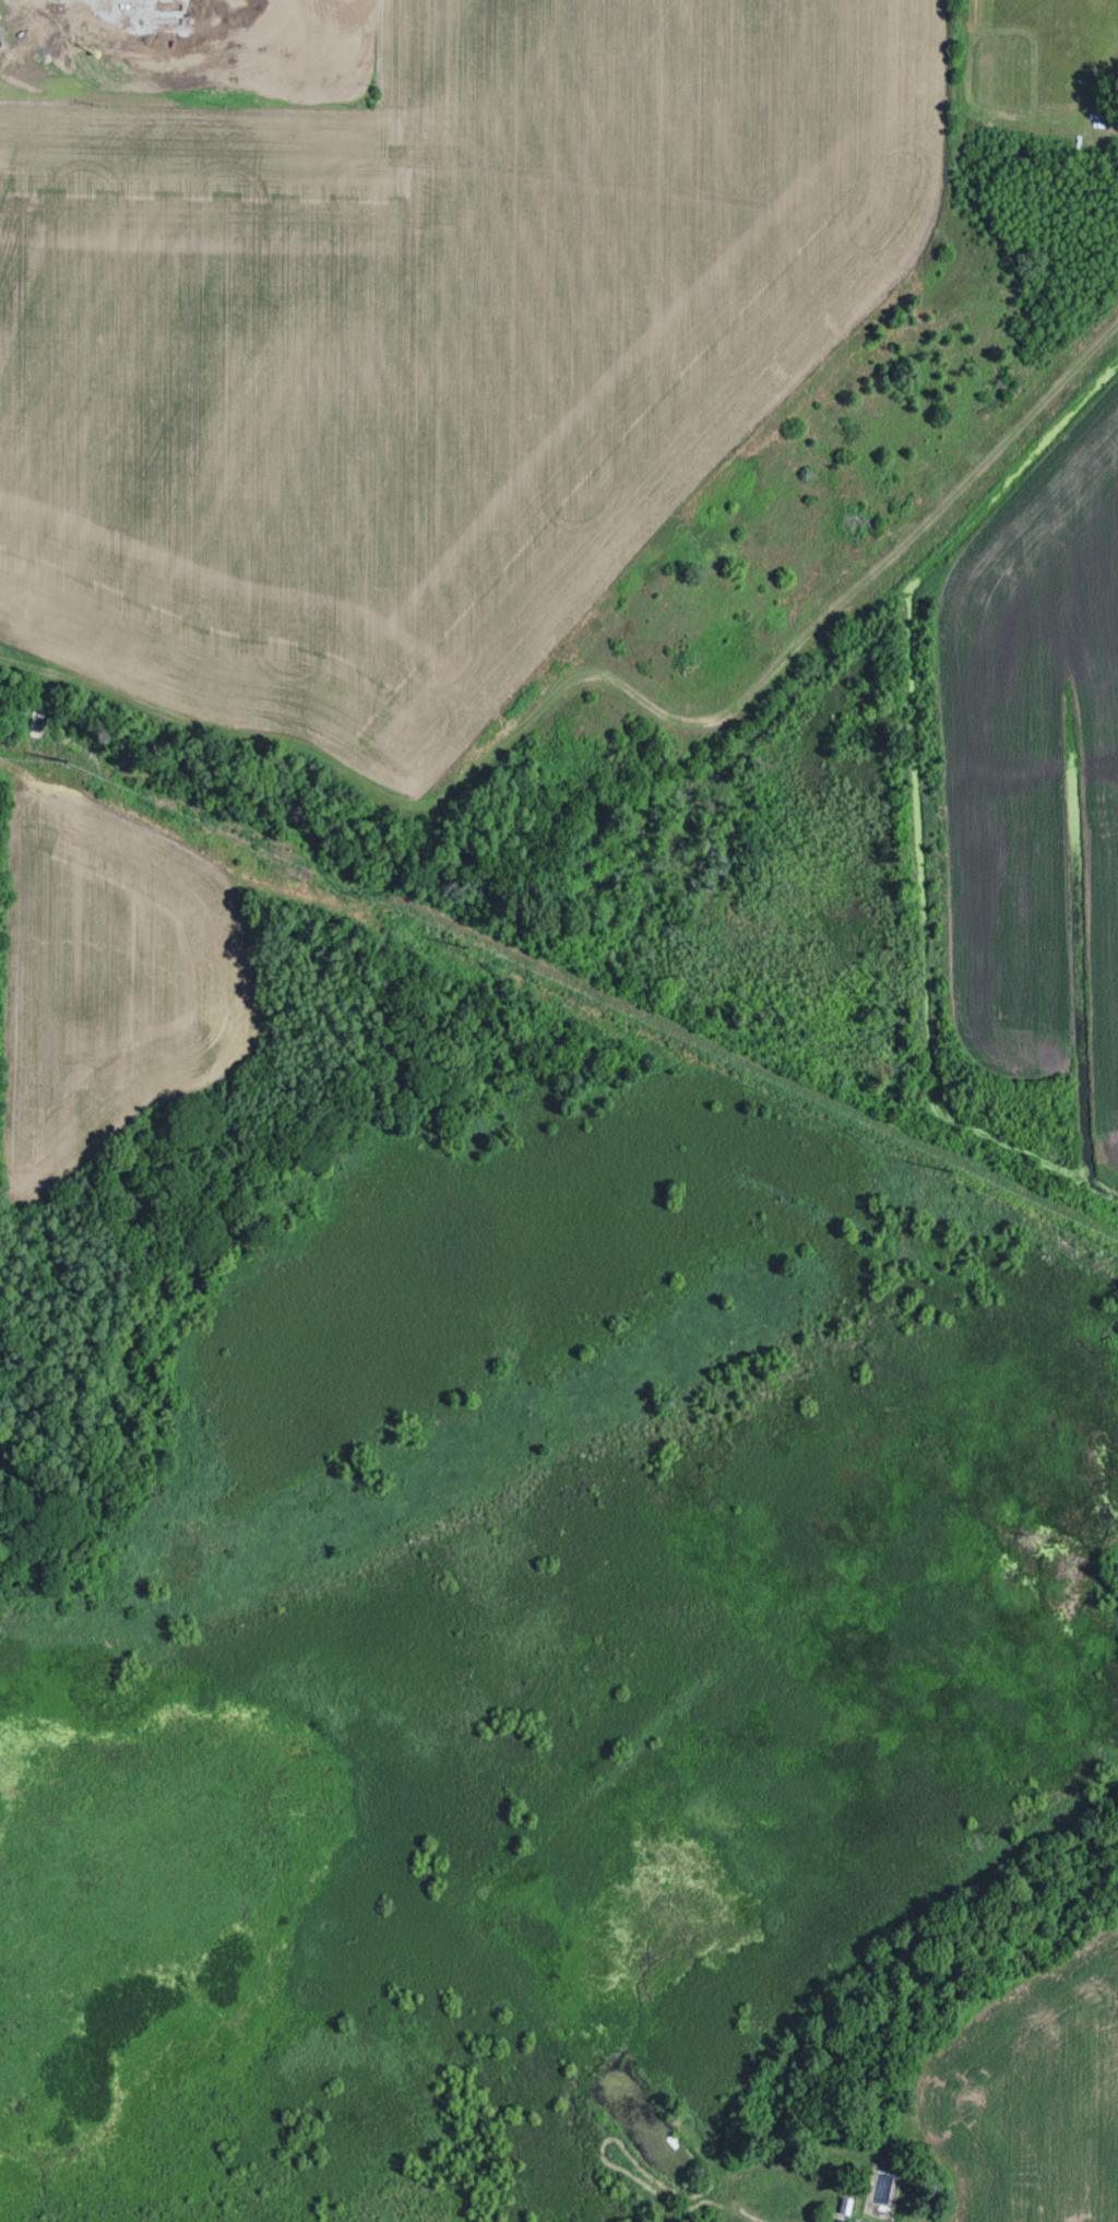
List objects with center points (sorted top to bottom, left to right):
building: (846, 2220)

